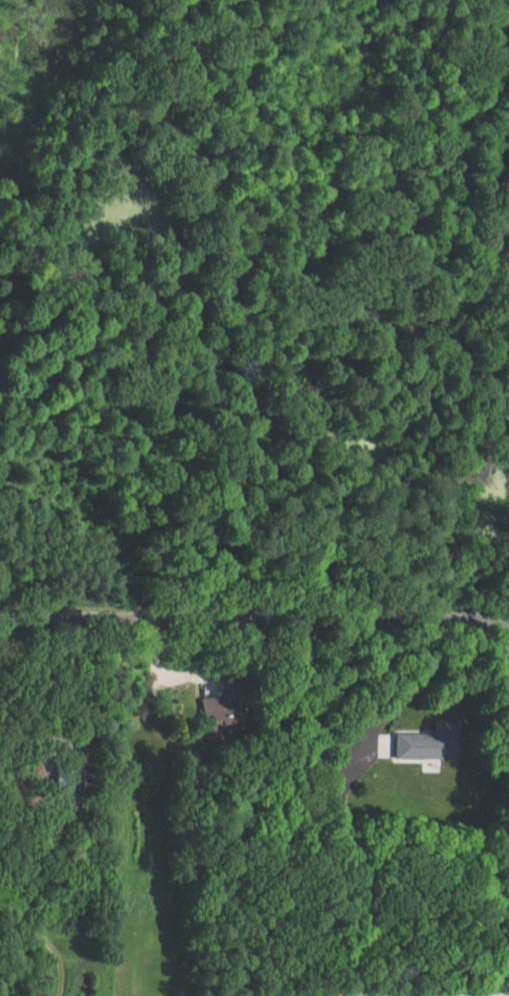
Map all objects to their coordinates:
road: (254, 621)
road: (419, 676)
building: (438, 739)

